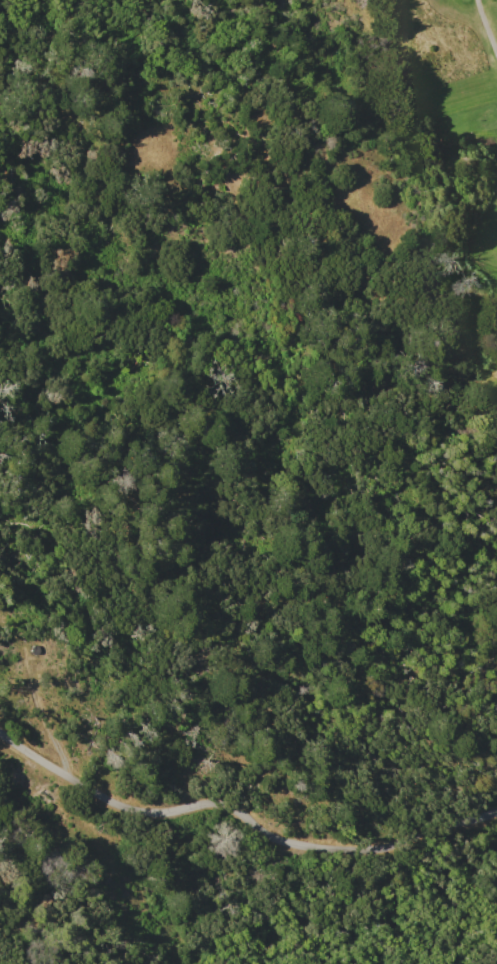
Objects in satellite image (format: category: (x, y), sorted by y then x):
road: (486, 27)
park: (460, 131)
road: (241, 813)

